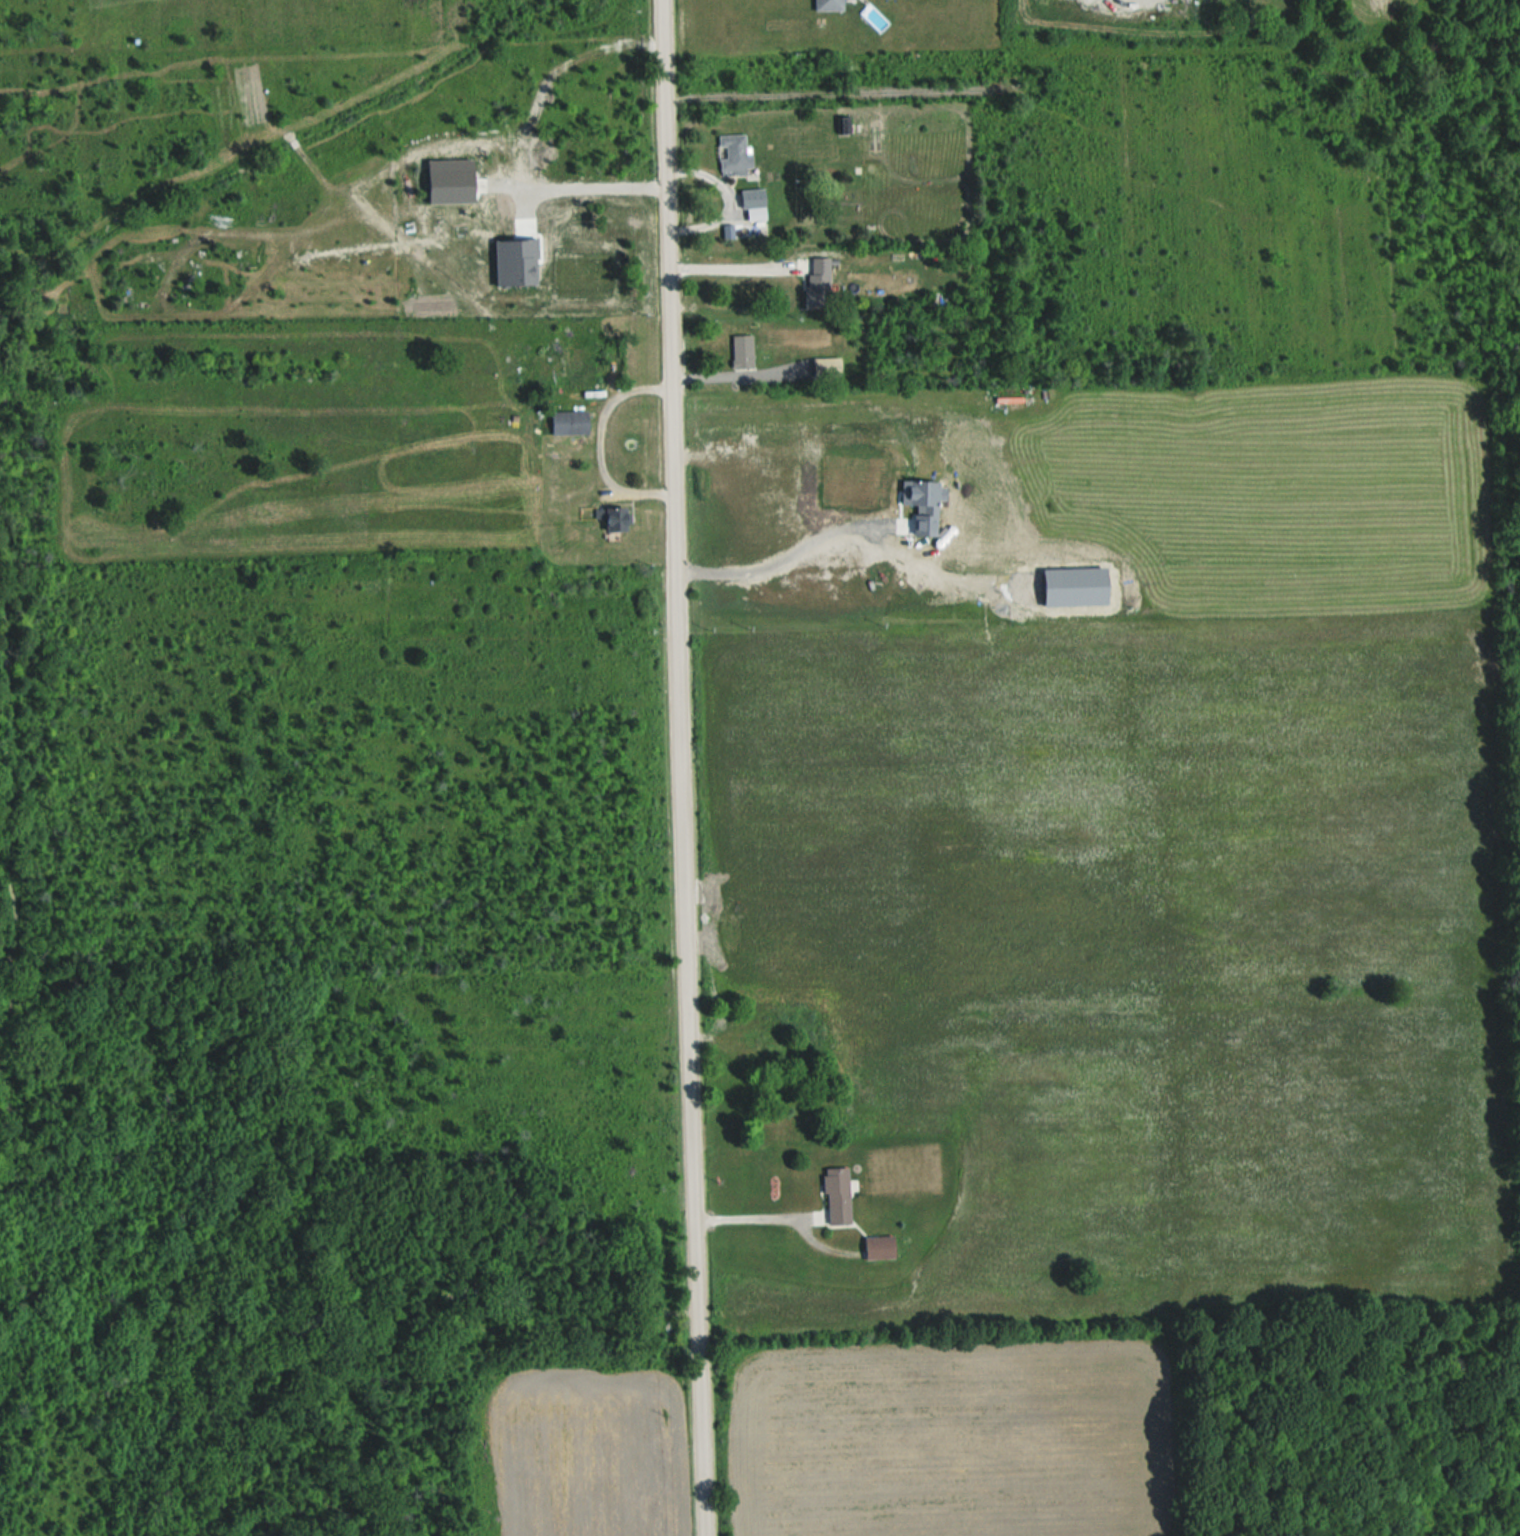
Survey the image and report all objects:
building: (830, 5)
road: (546, 70)
building: (845, 125)
building: (735, 154)
building: (756, 204)
road: (302, 240)
road: (729, 264)
building: (819, 281)
building: (558, 352)
building: (744, 352)
building: (829, 367)
building: (571, 422)
road: (598, 443)
building: (618, 518)
road: (780, 561)
road: (679, 768)
building: (836, 1193)
road: (755, 1220)

